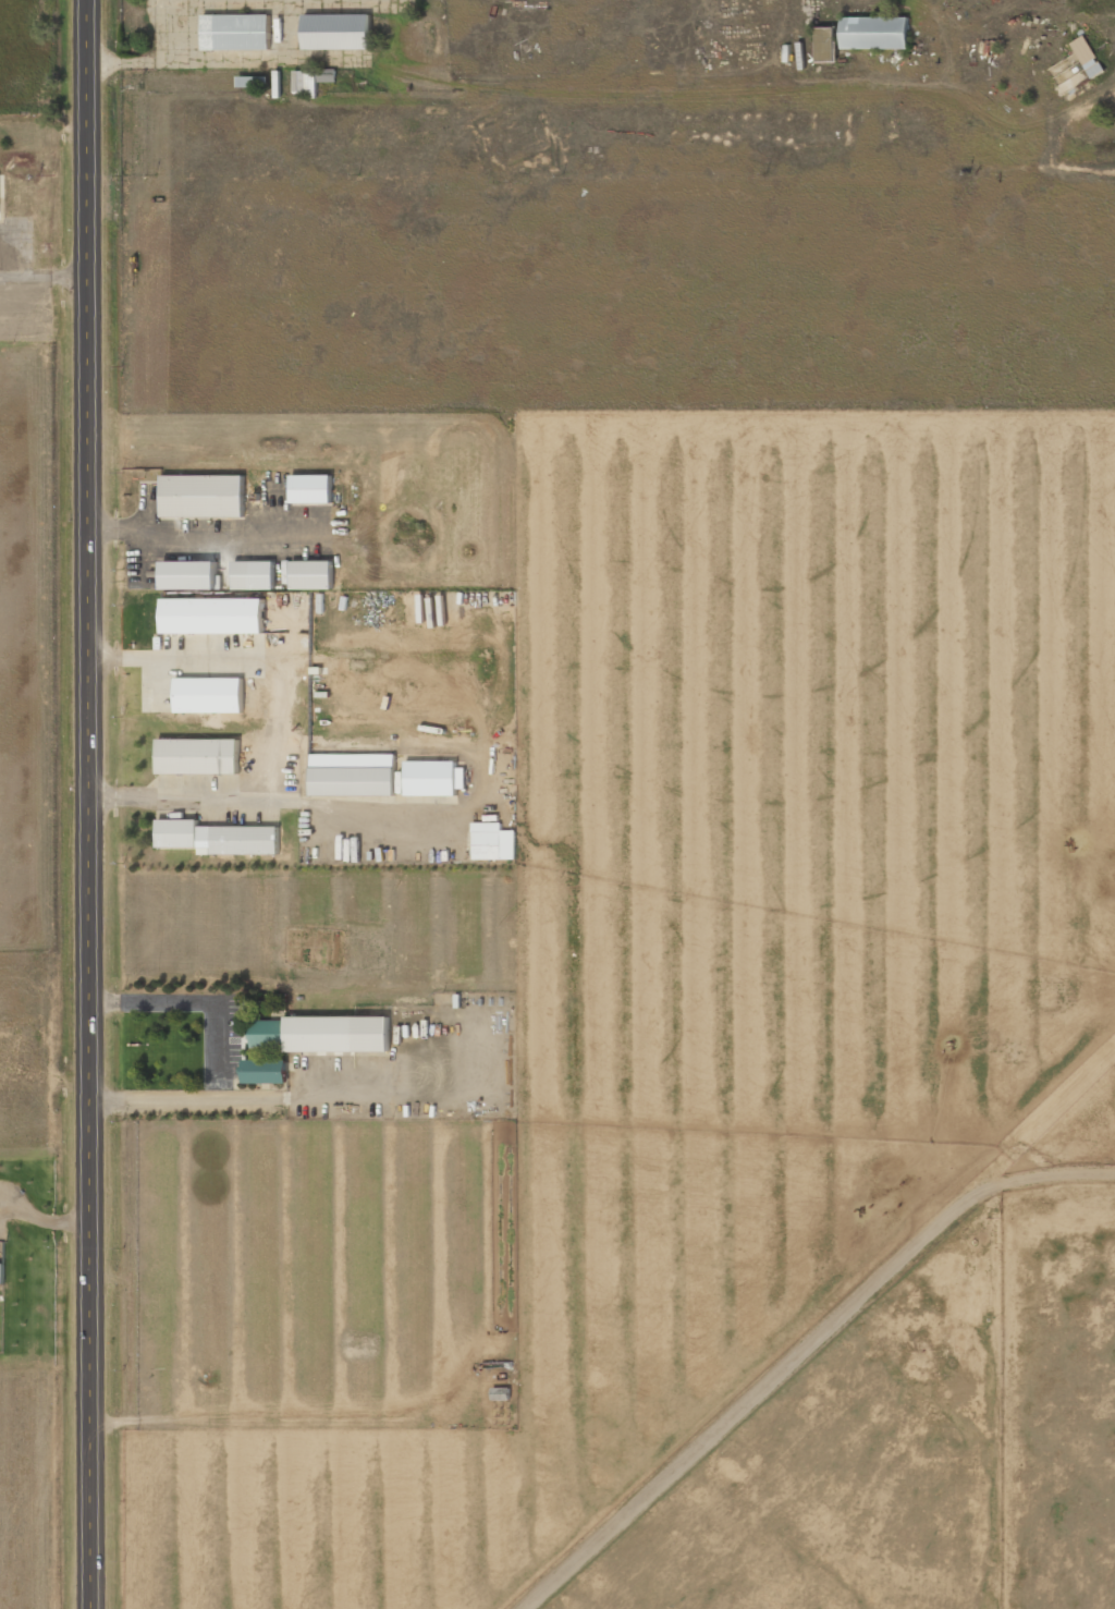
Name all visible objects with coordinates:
building: (339, 32)
building: (237, 33)
building: (875, 34)
building: (825, 45)
building: (1088, 57)
building: (328, 76)
building: (306, 83)
building: (313, 489)
building: (204, 497)
building: (191, 575)
building: (255, 575)
building: (313, 575)
building: (213, 617)
building: (209, 695)
building: (198, 757)
building: (354, 776)
building: (434, 779)
road: (88, 804)
building: (219, 838)
building: (493, 842)
building: (322, 1034)
building: (266, 1072)
building: (2, 1273)
road: (793, 1354)

